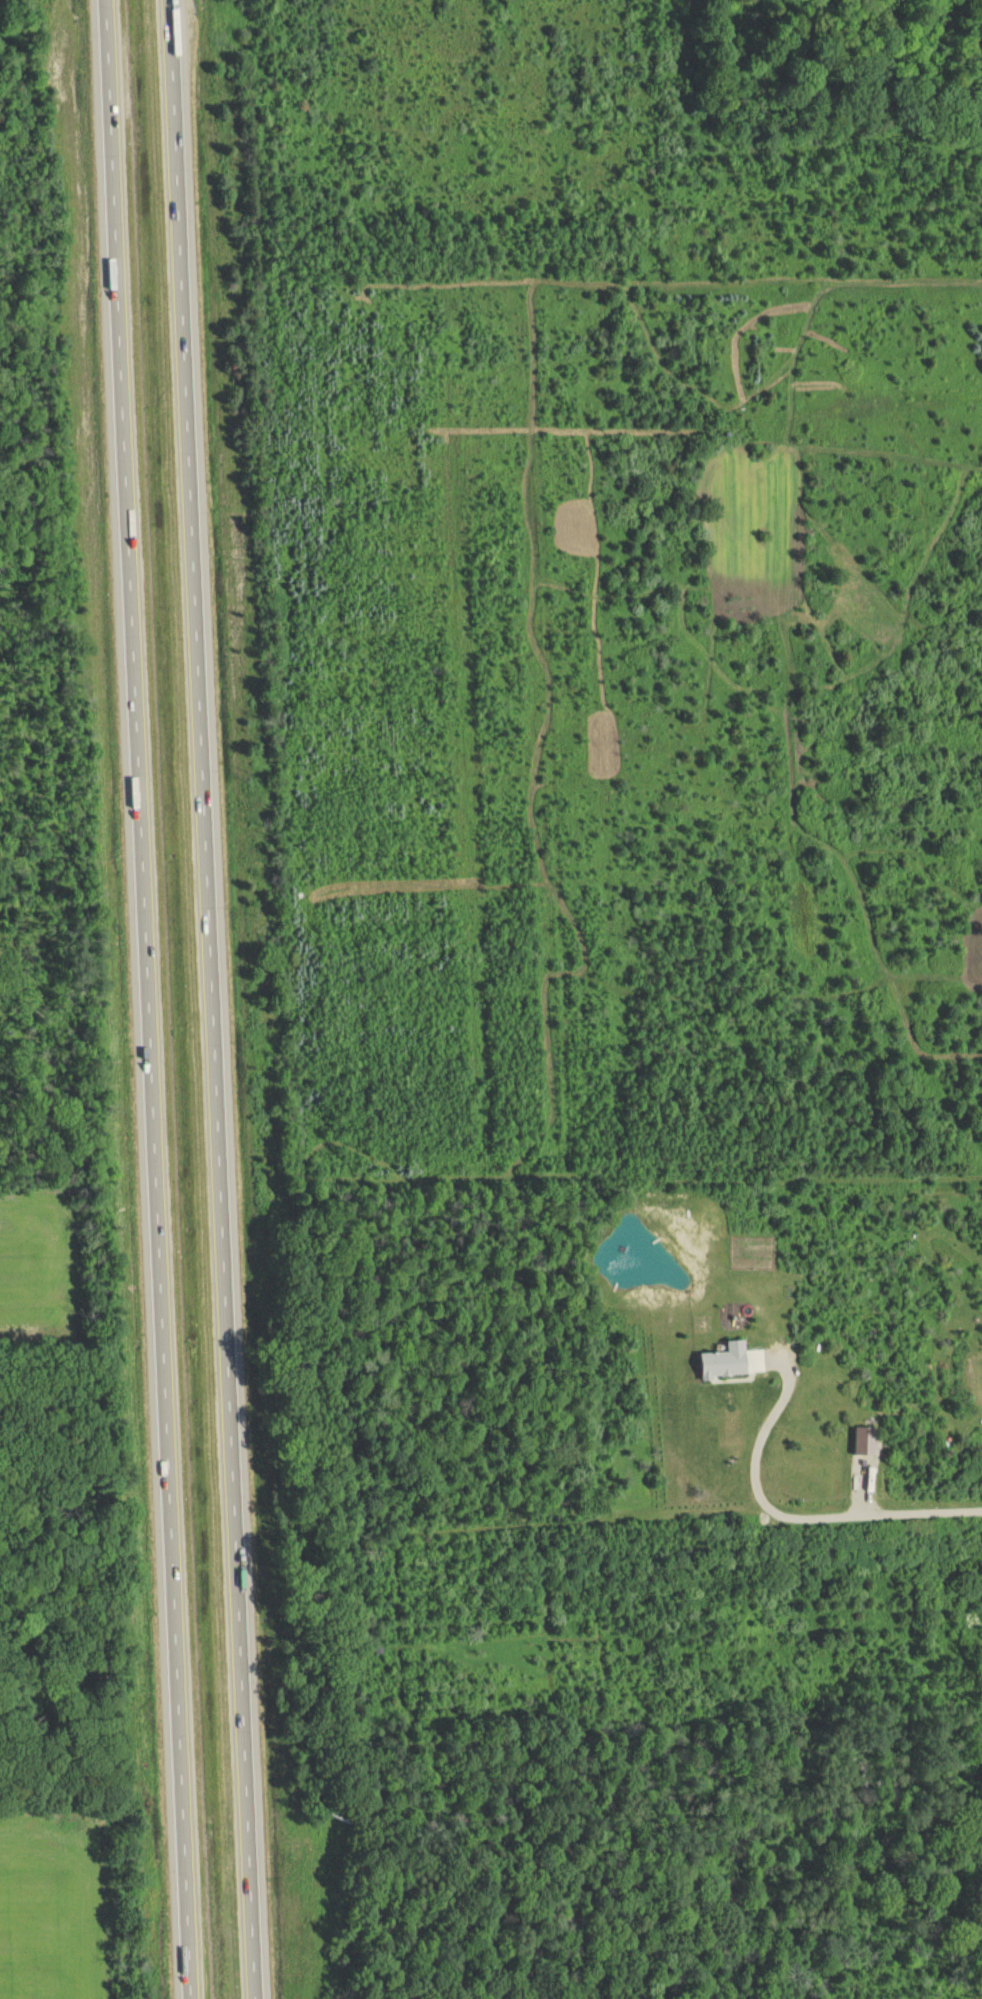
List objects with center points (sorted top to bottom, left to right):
road: (147, 999)
road: (210, 999)
building: (723, 1360)
building: (863, 1440)
road: (790, 1510)

